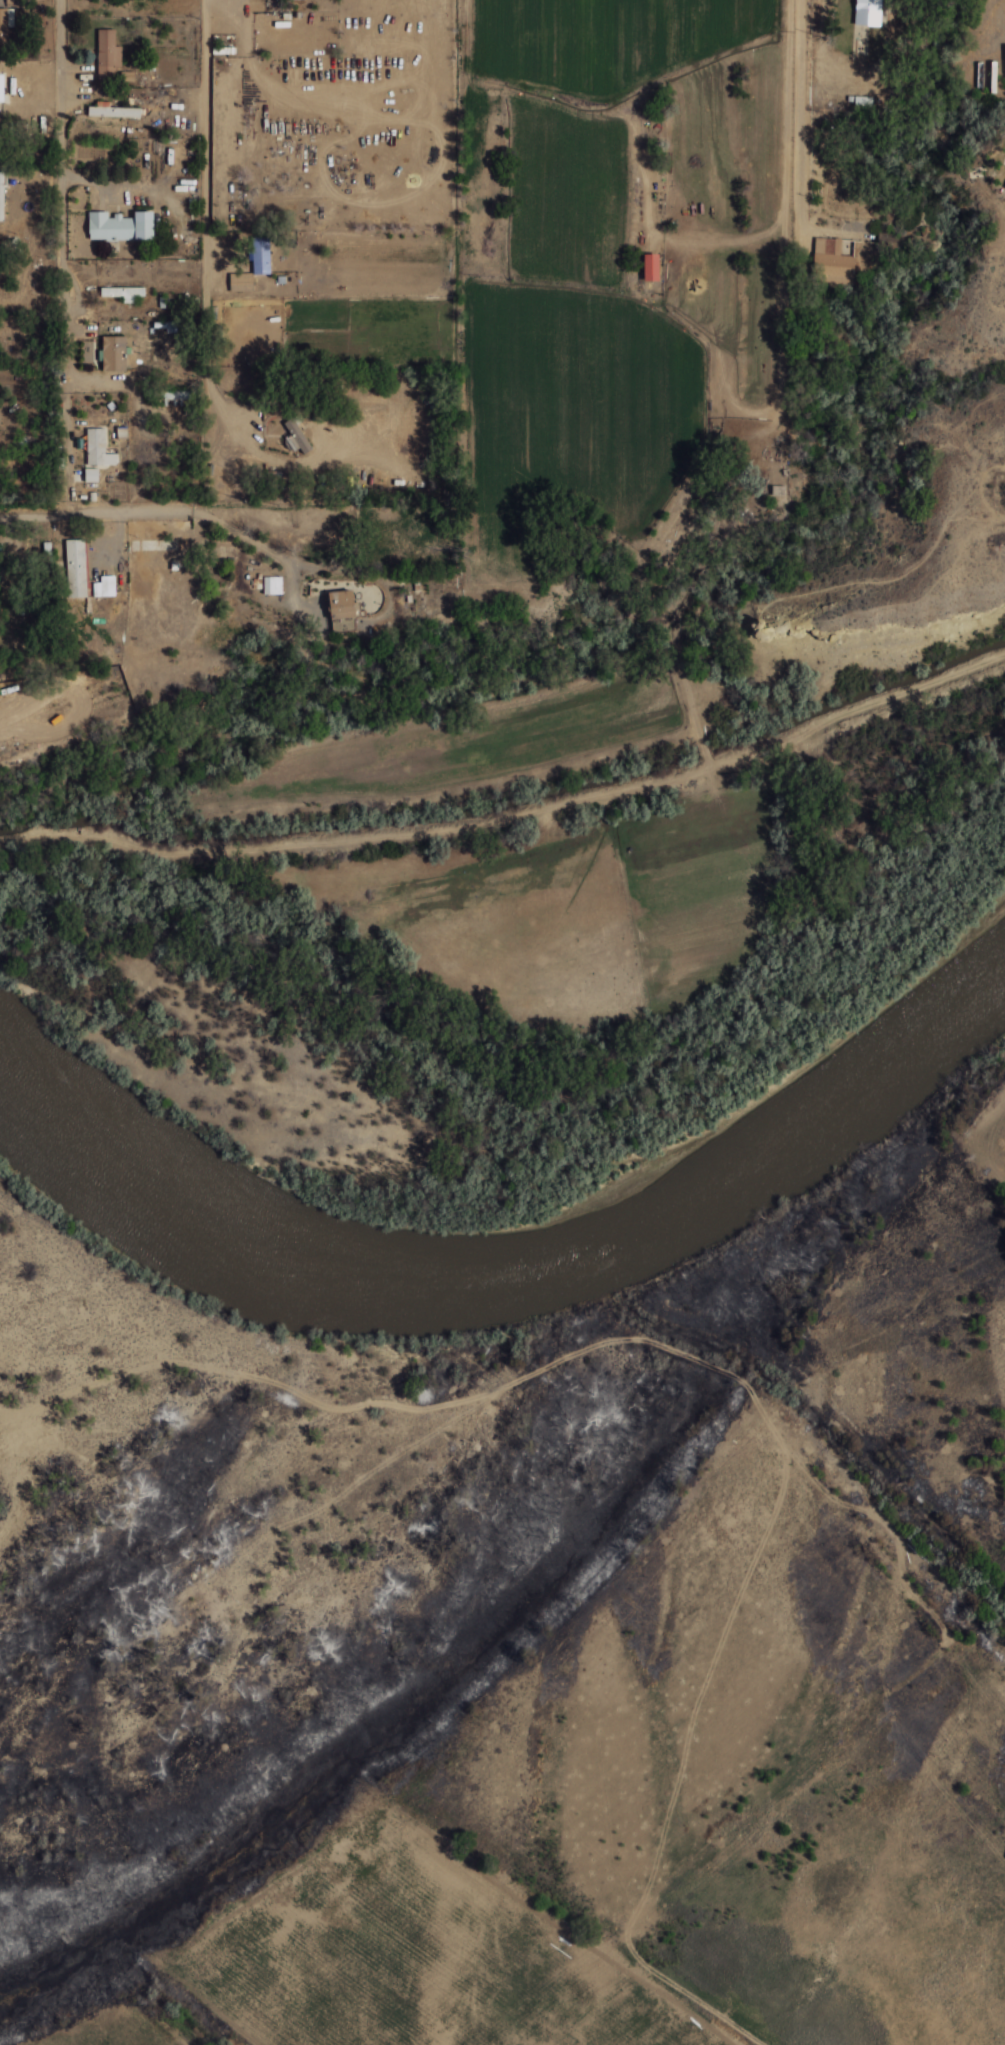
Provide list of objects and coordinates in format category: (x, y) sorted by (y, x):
building: (868, 12)
building: (4, 26)
building: (107, 55)
building: (0, 97)
building: (97, 110)
road: (240, 155)
road: (60, 174)
building: (1, 195)
building: (120, 226)
road: (799, 245)
building: (834, 261)
building: (651, 267)
building: (123, 292)
building: (114, 353)
building: (170, 396)
building: (298, 436)
building: (94, 456)
road: (67, 468)
building: (76, 568)
building: (273, 585)
building: (104, 586)
building: (343, 611)
river: (516, 1254)

